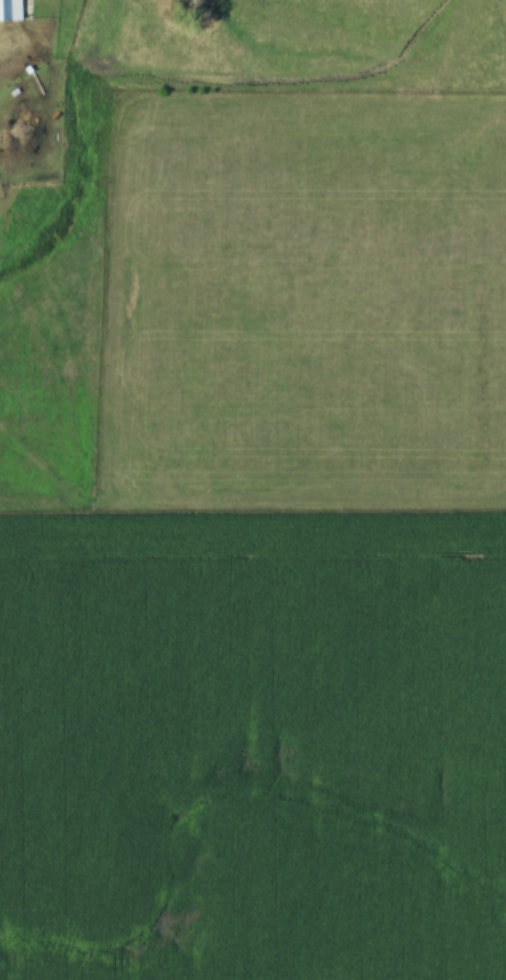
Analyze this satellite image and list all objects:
building: (11, 10)

